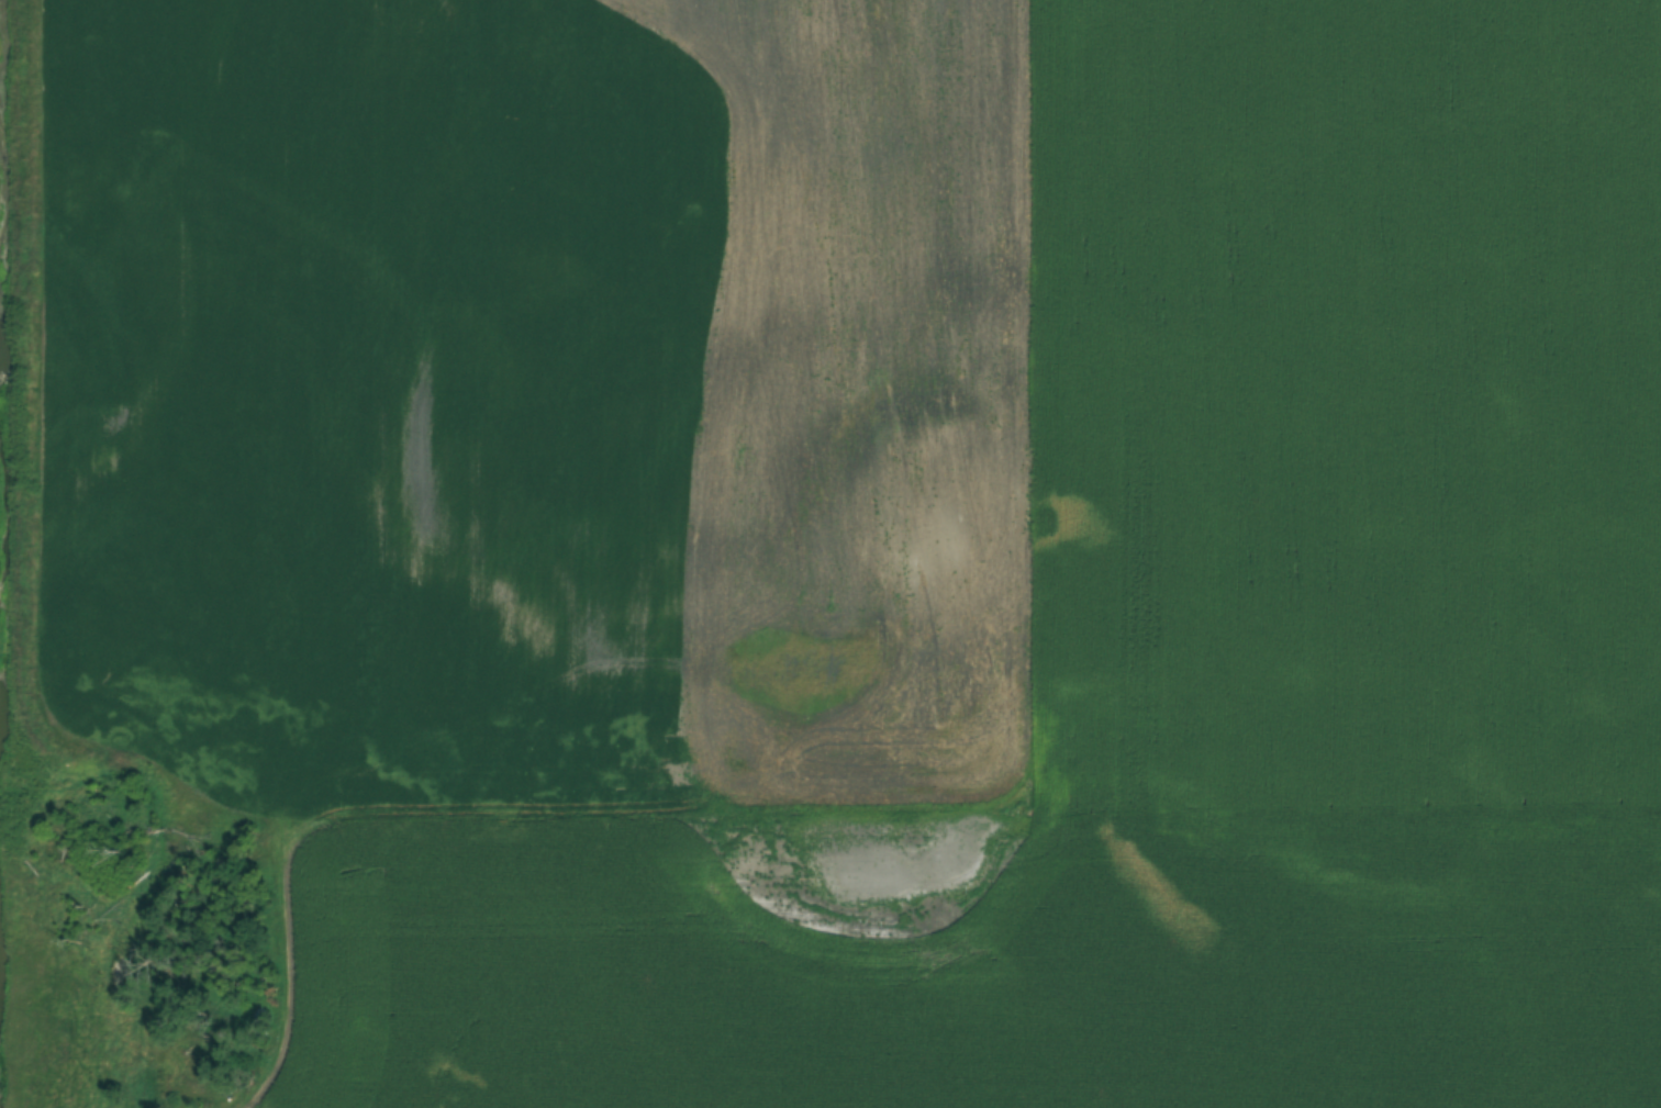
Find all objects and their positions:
river: (151, 383)
river: (142, 874)

